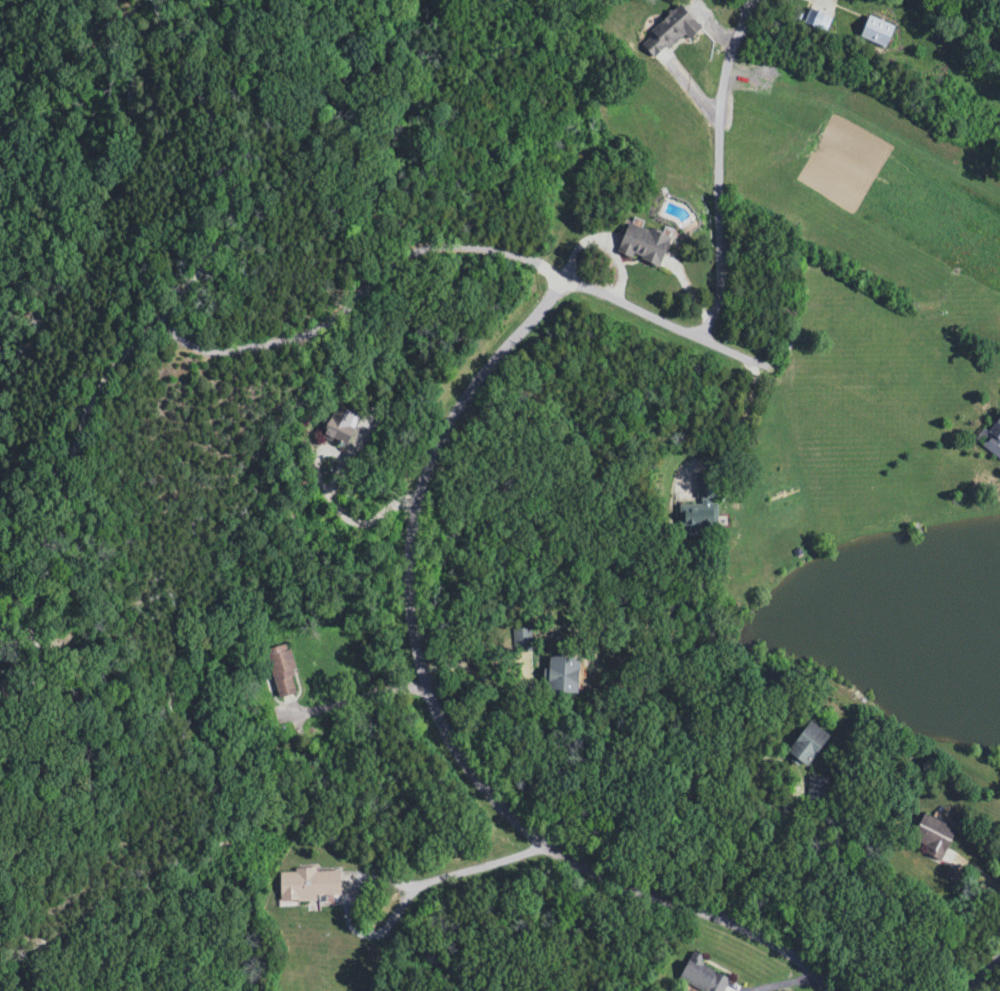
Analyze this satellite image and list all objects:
building: (816, 22)
building: (668, 33)
building: (875, 33)
road: (721, 165)
road: (440, 181)
building: (641, 244)
road: (202, 254)
road: (576, 280)
building: (338, 425)
building: (991, 438)
building: (700, 505)
building: (520, 641)
building: (280, 672)
building: (562, 676)
road: (351, 697)
road: (445, 725)
building: (806, 744)
building: (932, 837)
road: (486, 865)
road: (974, 869)
building: (306, 884)
road: (370, 930)
road: (978, 973)
building: (706, 976)

